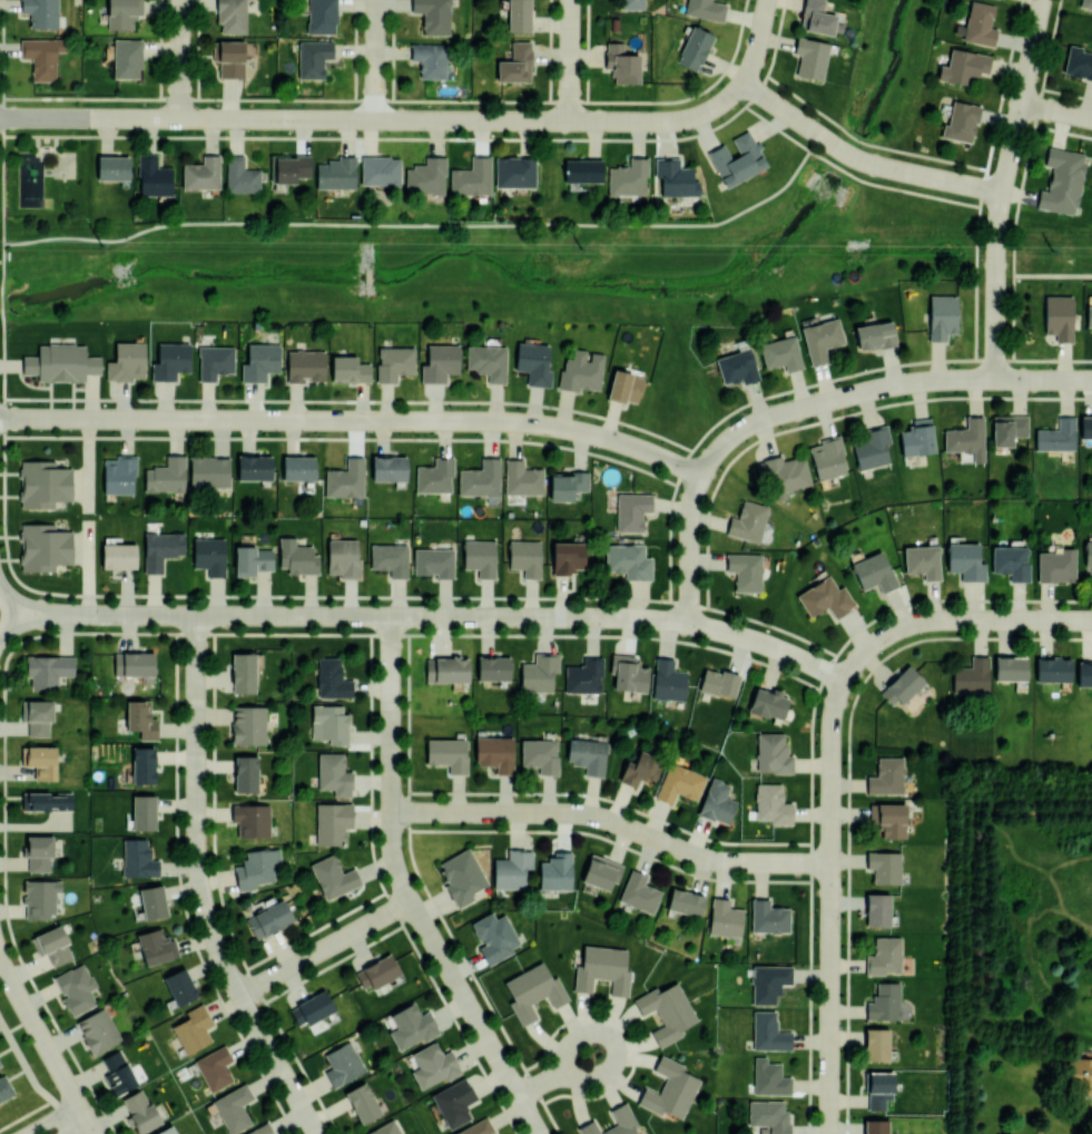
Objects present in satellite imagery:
building: (1085, 3)
building: (631, 4)
building: (706, 9)
building: (41, 12)
building: (124, 13)
building: (230, 14)
building: (519, 14)
building: (433, 16)
building: (321, 17)
building: (816, 17)
building: (980, 23)
road: (757, 41)
building: (693, 47)
building: (41, 56)
building: (229, 57)
building: (313, 57)
building: (810, 57)
building: (127, 58)
road: (180, 59)
road: (375, 59)
building: (430, 59)
road: (570, 60)
building: (1078, 61)
building: (515, 63)
building: (621, 63)
building: (964, 66)
road: (1056, 110)
road: (377, 119)
building: (961, 121)
building: (737, 159)
road: (862, 160)
park: (63, 164)
building: (288, 167)
building: (111, 168)
building: (380, 169)
building: (582, 170)
building: (514, 172)
building: (201, 173)
building: (336, 173)
park: (47, 175)
building: (240, 175)
building: (426, 175)
road: (852, 175)
building: (153, 176)
building: (472, 176)
building: (628, 177)
building: (675, 177)
road: (983, 177)
road: (1023, 177)
building: (1062, 179)
road: (1003, 187)
road: (419, 224)
power tower: (100, 245)
power tower: (579, 247)
power tower: (1052, 250)
road: (1053, 273)
building: (1089, 315)
building: (942, 316)
building: (1059, 316)
building: (875, 334)
building: (820, 339)
building: (780, 352)
road: (1033, 358)
building: (126, 361)
building: (169, 361)
building: (214, 361)
building: (259, 361)
building: (486, 361)
building: (61, 362)
building: (394, 362)
building: (440, 362)
building: (533, 362)
building: (304, 365)
building: (736, 365)
building: (348, 369)
building: (581, 371)
road: (1043, 379)
building: (623, 387)
road: (835, 399)
road: (354, 420)
building: (1085, 427)
building: (1007, 429)
building: (1056, 434)
building: (917, 437)
building: (966, 438)
building: (872, 447)
building: (827, 457)
building: (254, 467)
building: (298, 467)
building: (388, 468)
building: (208, 471)
building: (119, 473)
building: (781, 473)
building: (166, 475)
building: (434, 476)
building: (345, 478)
building: (480, 478)
building: (521, 478)
building: (43, 483)
building: (567, 483)
building: (631, 510)
building: (748, 520)
building: (43, 546)
road: (689, 548)
building: (160, 549)
building: (209, 555)
building: (118, 556)
building: (480, 556)
building: (525, 556)
building: (297, 557)
building: (343, 557)
building: (567, 557)
building: (1089, 557)
building: (390, 558)
building: (252, 560)
building: (628, 560)
building: (922, 560)
building: (965, 560)
building: (434, 561)
building: (1011, 561)
building: (1056, 565)
building: (745, 570)
building: (874, 571)
building: (825, 598)
road: (14, 612)
road: (435, 616)
road: (956, 619)
building: (134, 663)
building: (493, 667)
building: (1011, 667)
building: (447, 668)
building: (48, 669)
park: (191, 669)
building: (1053, 669)
building: (243, 672)
building: (539, 672)
building: (628, 673)
building: (1084, 674)
building: (583, 675)
building: (971, 676)
building: (332, 678)
building: (668, 681)
building: (718, 682)
building: (902, 685)
building: (767, 703)
building: (37, 715)
building: (140, 720)
building: (329, 723)
building: (248, 725)
building: (495, 752)
building: (773, 752)
building: (447, 753)
building: (540, 754)
building: (587, 754)
building: (40, 761)
building: (144, 764)
building: (640, 768)
building: (246, 773)
building: (334, 773)
building: (886, 775)
building: (679, 783)
building: (47, 801)
building: (716, 802)
building: (771, 803)
building: (144, 812)
building: (888, 818)
building: (252, 819)
road: (612, 821)
building: (332, 822)
building: (38, 852)
building: (138, 859)
building: (884, 866)
building: (256, 868)
building: (511, 869)
building: (555, 871)
building: (601, 871)
building: (332, 876)
building: (461, 876)
road: (198, 887)
road: (404, 891)
building: (639, 891)
building: (40, 897)
building: (153, 900)
building: (685, 901)
road: (829, 906)
building: (877, 909)
building: (768, 916)
building: (269, 918)
building: (724, 918)
building: (494, 936)
building: (52, 945)
building: (156, 946)
road: (323, 948)
building: (884, 956)
building: (602, 969)
building: (377, 971)
building: (768, 981)
building: (179, 986)
building: (76, 988)
building: (532, 990)
building: (884, 1001)
building: (312, 1007)
building: (666, 1010)
building: (411, 1025)
building: (193, 1028)
building: (98, 1030)
building: (768, 1032)
road: (43, 1039)
building: (876, 1044)
building: (342, 1064)
building: (433, 1065)
building: (0, 1066)
building: (214, 1067)
building: (118, 1073)
road: (557, 1073)
building: (1080, 1074)
building: (769, 1077)
road: (33, 1079)
building: (4, 1087)
building: (669, 1088)
building: (878, 1088)
building: (453, 1101)
building: (362, 1102)
building: (233, 1108)
building: (140, 1112)
building: (621, 1114)
building: (768, 1115)
road: (52, 1118)
building: (876, 1126)
building: (478, 1127)
road: (78, 1128)
road: (90, 1128)
building: (385, 1128)
building: (262, 1130)
building: (167, 1131)

